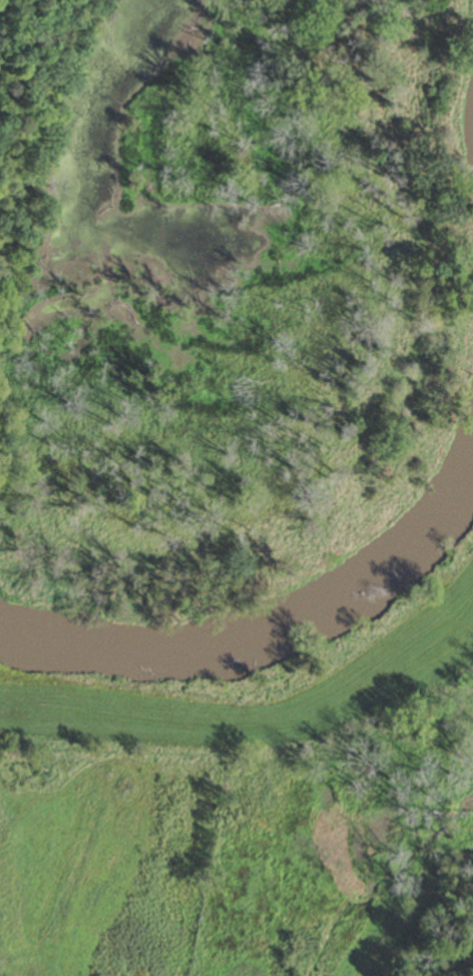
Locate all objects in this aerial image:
river: (267, 634)

